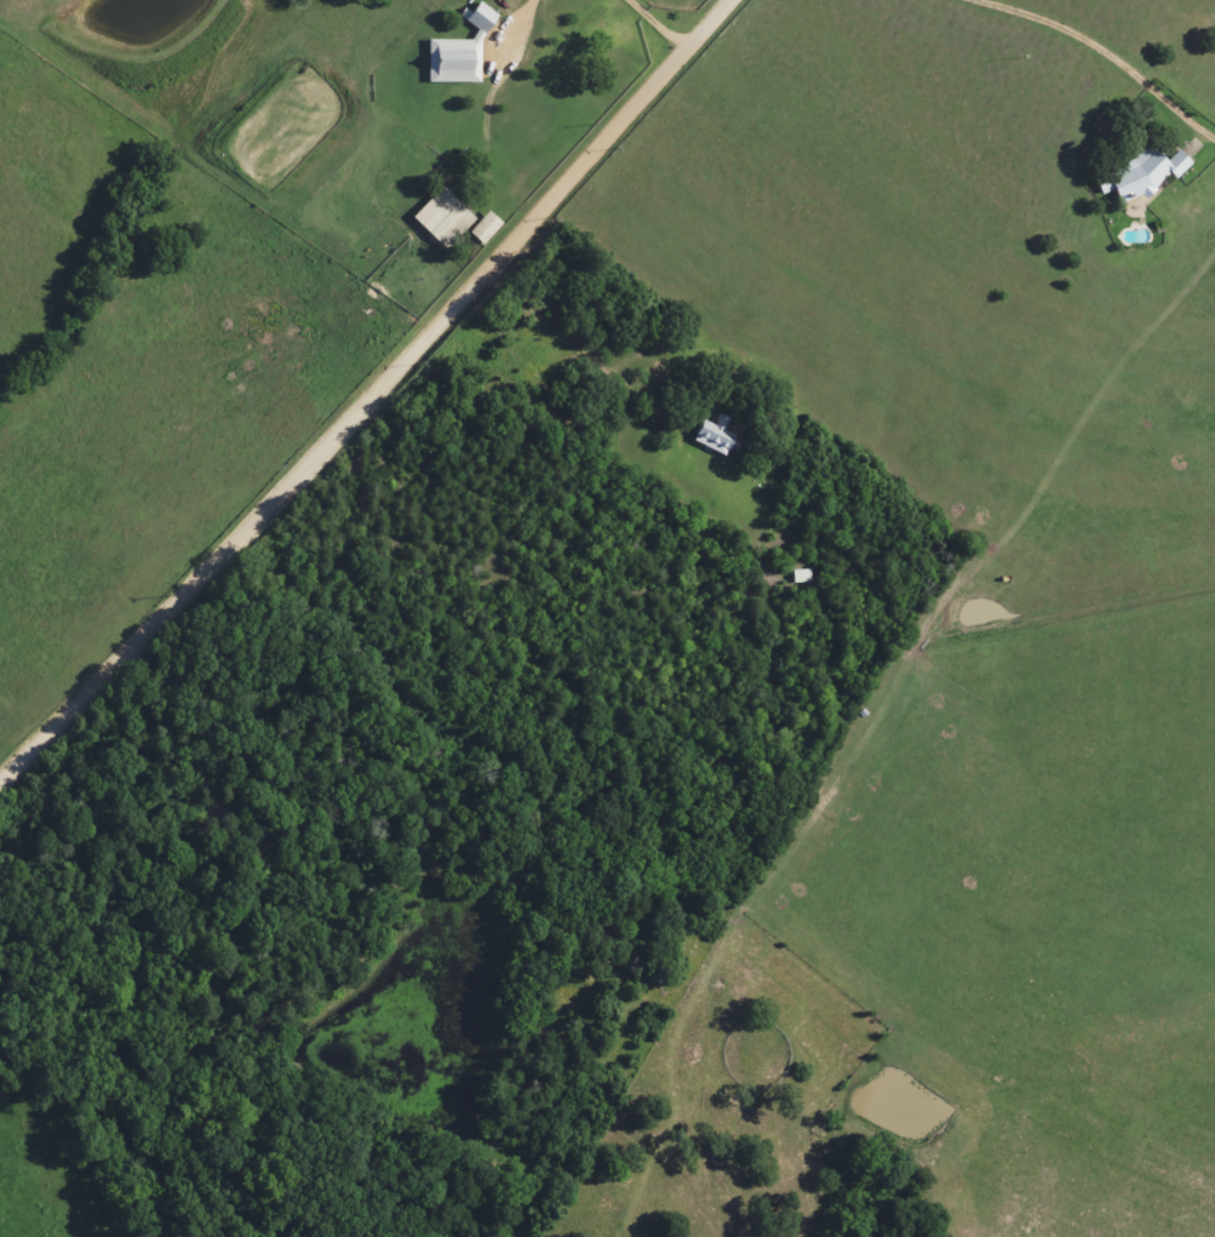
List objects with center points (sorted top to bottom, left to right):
building: (588, 23)
building: (452, 56)
building: (1134, 176)
building: (434, 217)
road: (374, 400)
building: (706, 436)

